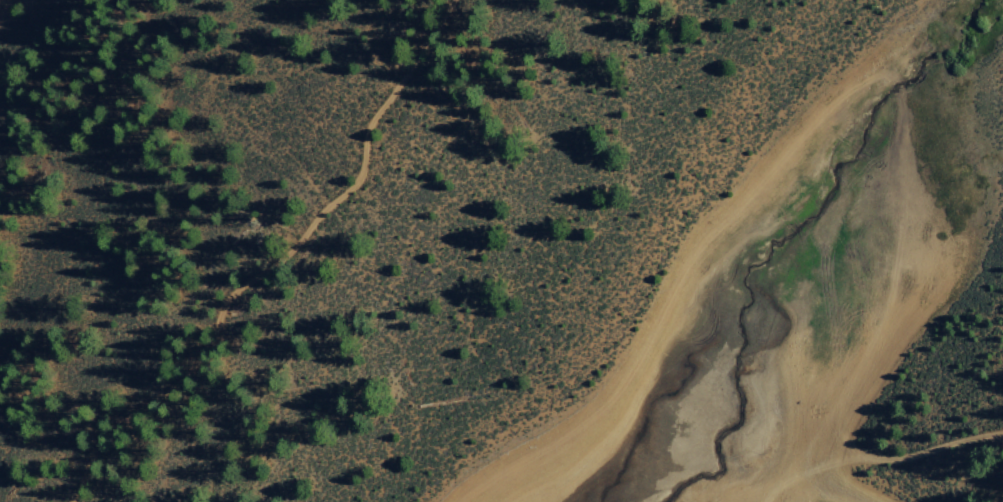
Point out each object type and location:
road: (271, 263)

